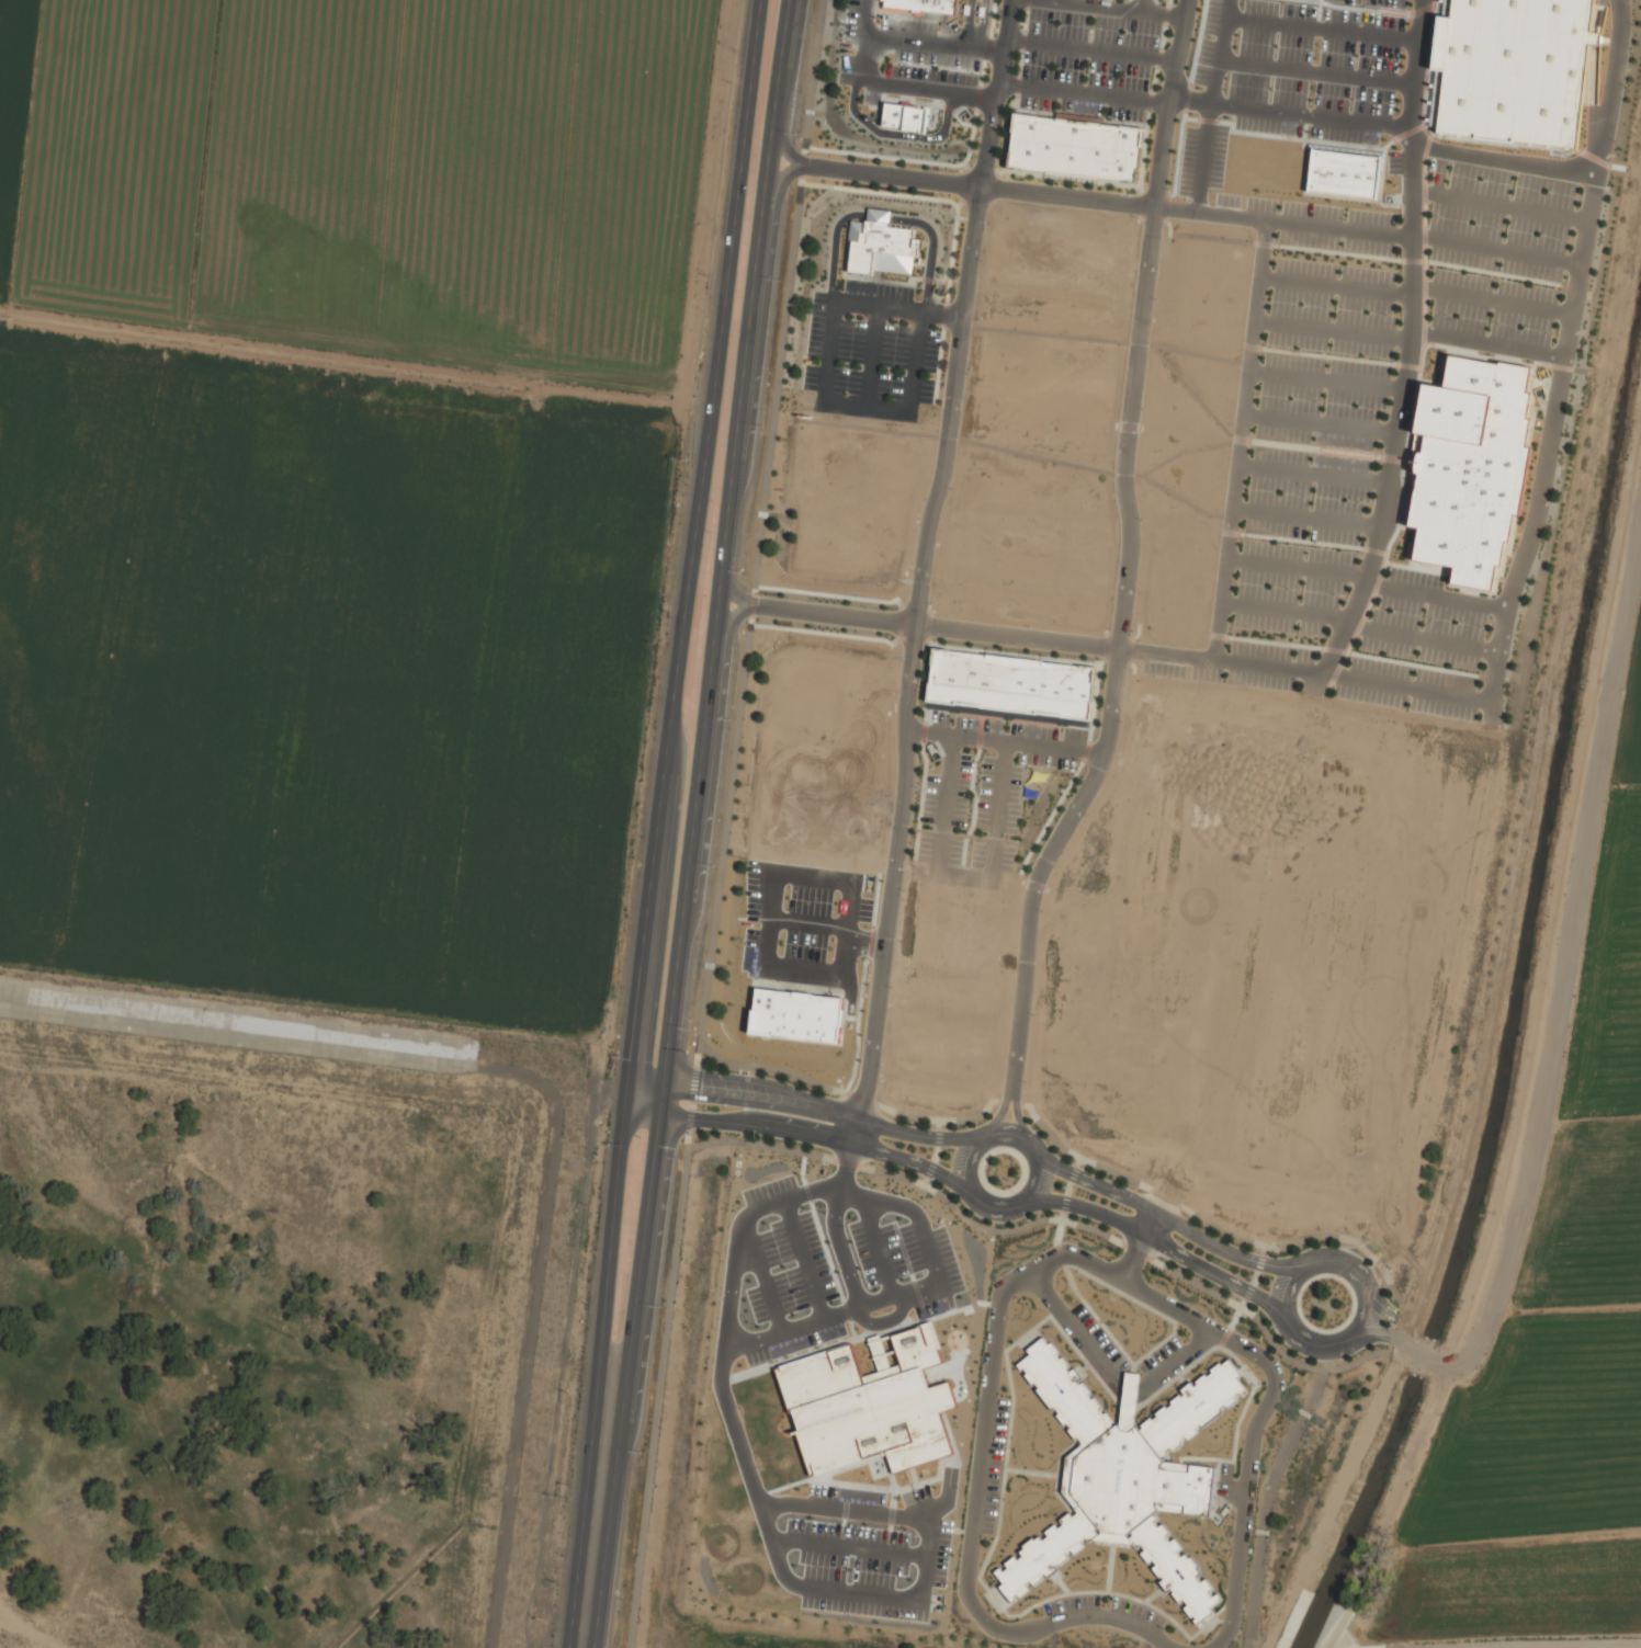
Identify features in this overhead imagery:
building: (924, 5)
road: (1121, 8)
road: (967, 24)
road: (981, 25)
road: (914, 44)
road: (1094, 49)
parking lot: (1089, 65)
building: (1510, 70)
road: (1620, 80)
road: (908, 86)
road: (1086, 92)
road: (1172, 104)
road: (1216, 106)
building: (905, 115)
road: (1359, 123)
road: (899, 134)
road: (788, 149)
building: (1074, 150)
road: (1505, 162)
building: (1339, 174)
road: (784, 178)
road: (976, 185)
parking lot: (1227, 205)
road: (1502, 206)
road: (1284, 224)
building: (881, 247)
road: (933, 249)
road: (837, 250)
road: (1498, 250)
parking lot: (1499, 250)
road: (1418, 293)
road: (899, 309)
road: (964, 312)
road: (1411, 339)
parking lot: (872, 343)
road: (829, 356)
road: (871, 359)
road: (914, 365)
road: (1327, 382)
road: (863, 409)
road: (1399, 422)
road: (1321, 425)
parking lot: (1314, 437)
road: (1242, 441)
road: (1552, 444)
building: (1471, 467)
road: (1314, 475)
crop: (336, 488)
road: (1309, 519)
road: (1299, 568)
road: (735, 593)
road: (1436, 596)
road: (831, 615)
road: (734, 618)
road: (1360, 625)
road: (1019, 637)
parking lot: (1418, 648)
road: (1120, 656)
parking lot: (1182, 667)
road: (1308, 671)
building: (1008, 687)
road: (660, 822)
road: (695, 825)
road: (893, 886)
road: (1563, 977)
building: (794, 1016)
traffic signals: (630, 1079)
traffic signals: (666, 1083)
dam: (528, 1086)
road: (804, 1104)
traffic signals: (625, 1114)
road: (1000, 1116)
traffic signals: (661, 1117)
road: (1019, 1121)
road: (806, 1136)
road: (969, 1186)
road: (1164, 1215)
road: (1159, 1242)
road: (1140, 1246)
road: (842, 1249)
road: (908, 1296)
road: (1381, 1303)
road: (1354, 1333)
road: (1368, 1333)
parking lot: (1097, 1340)
crop: (1558, 1350)
parking lot: (1163, 1360)
road: (1111, 1377)
building: (865, 1417)
road: (1258, 1422)
parking lot: (992, 1467)
building: (1124, 1476)
road: (978, 1486)
road: (765, 1512)
parking lot: (1106, 1612)

